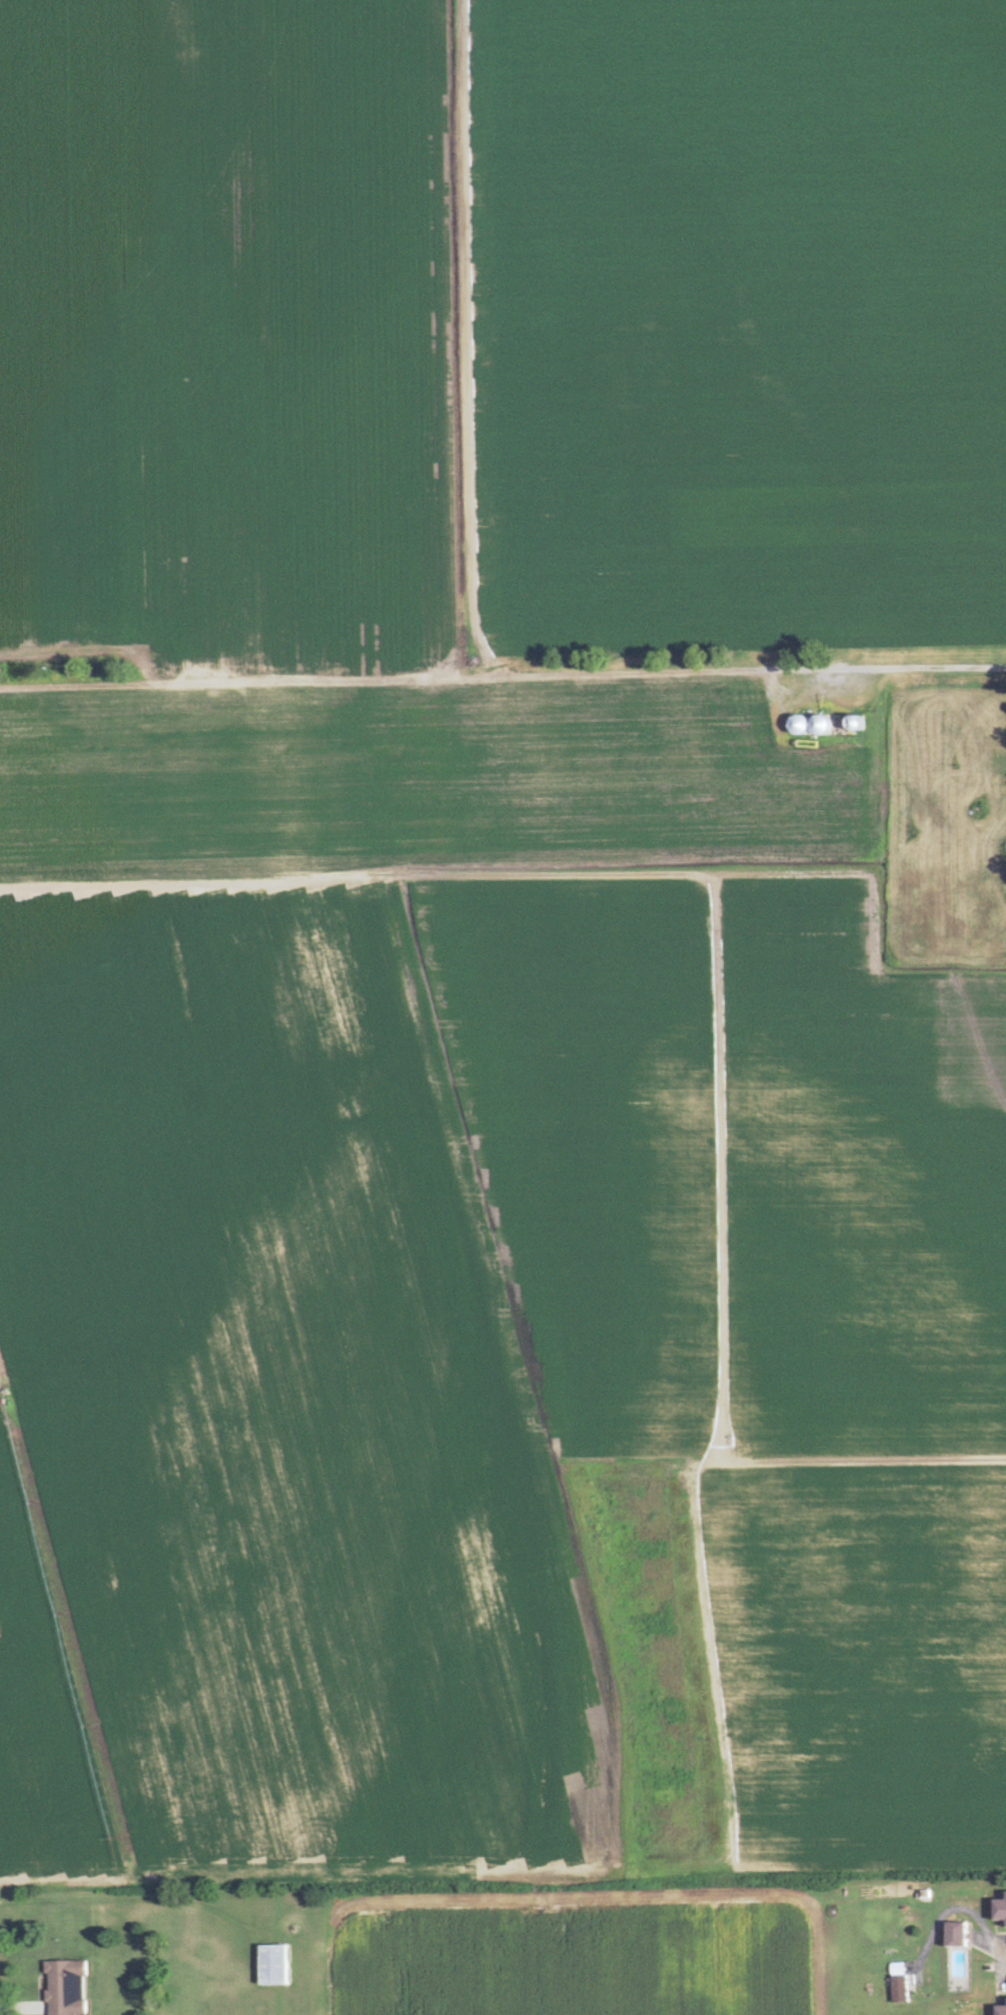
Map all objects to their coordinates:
road: (64, 1648)
road: (58, 1879)
building: (999, 1910)
building: (953, 1935)
road: (1002, 1959)
building: (899, 1983)
building: (1000, 2010)

